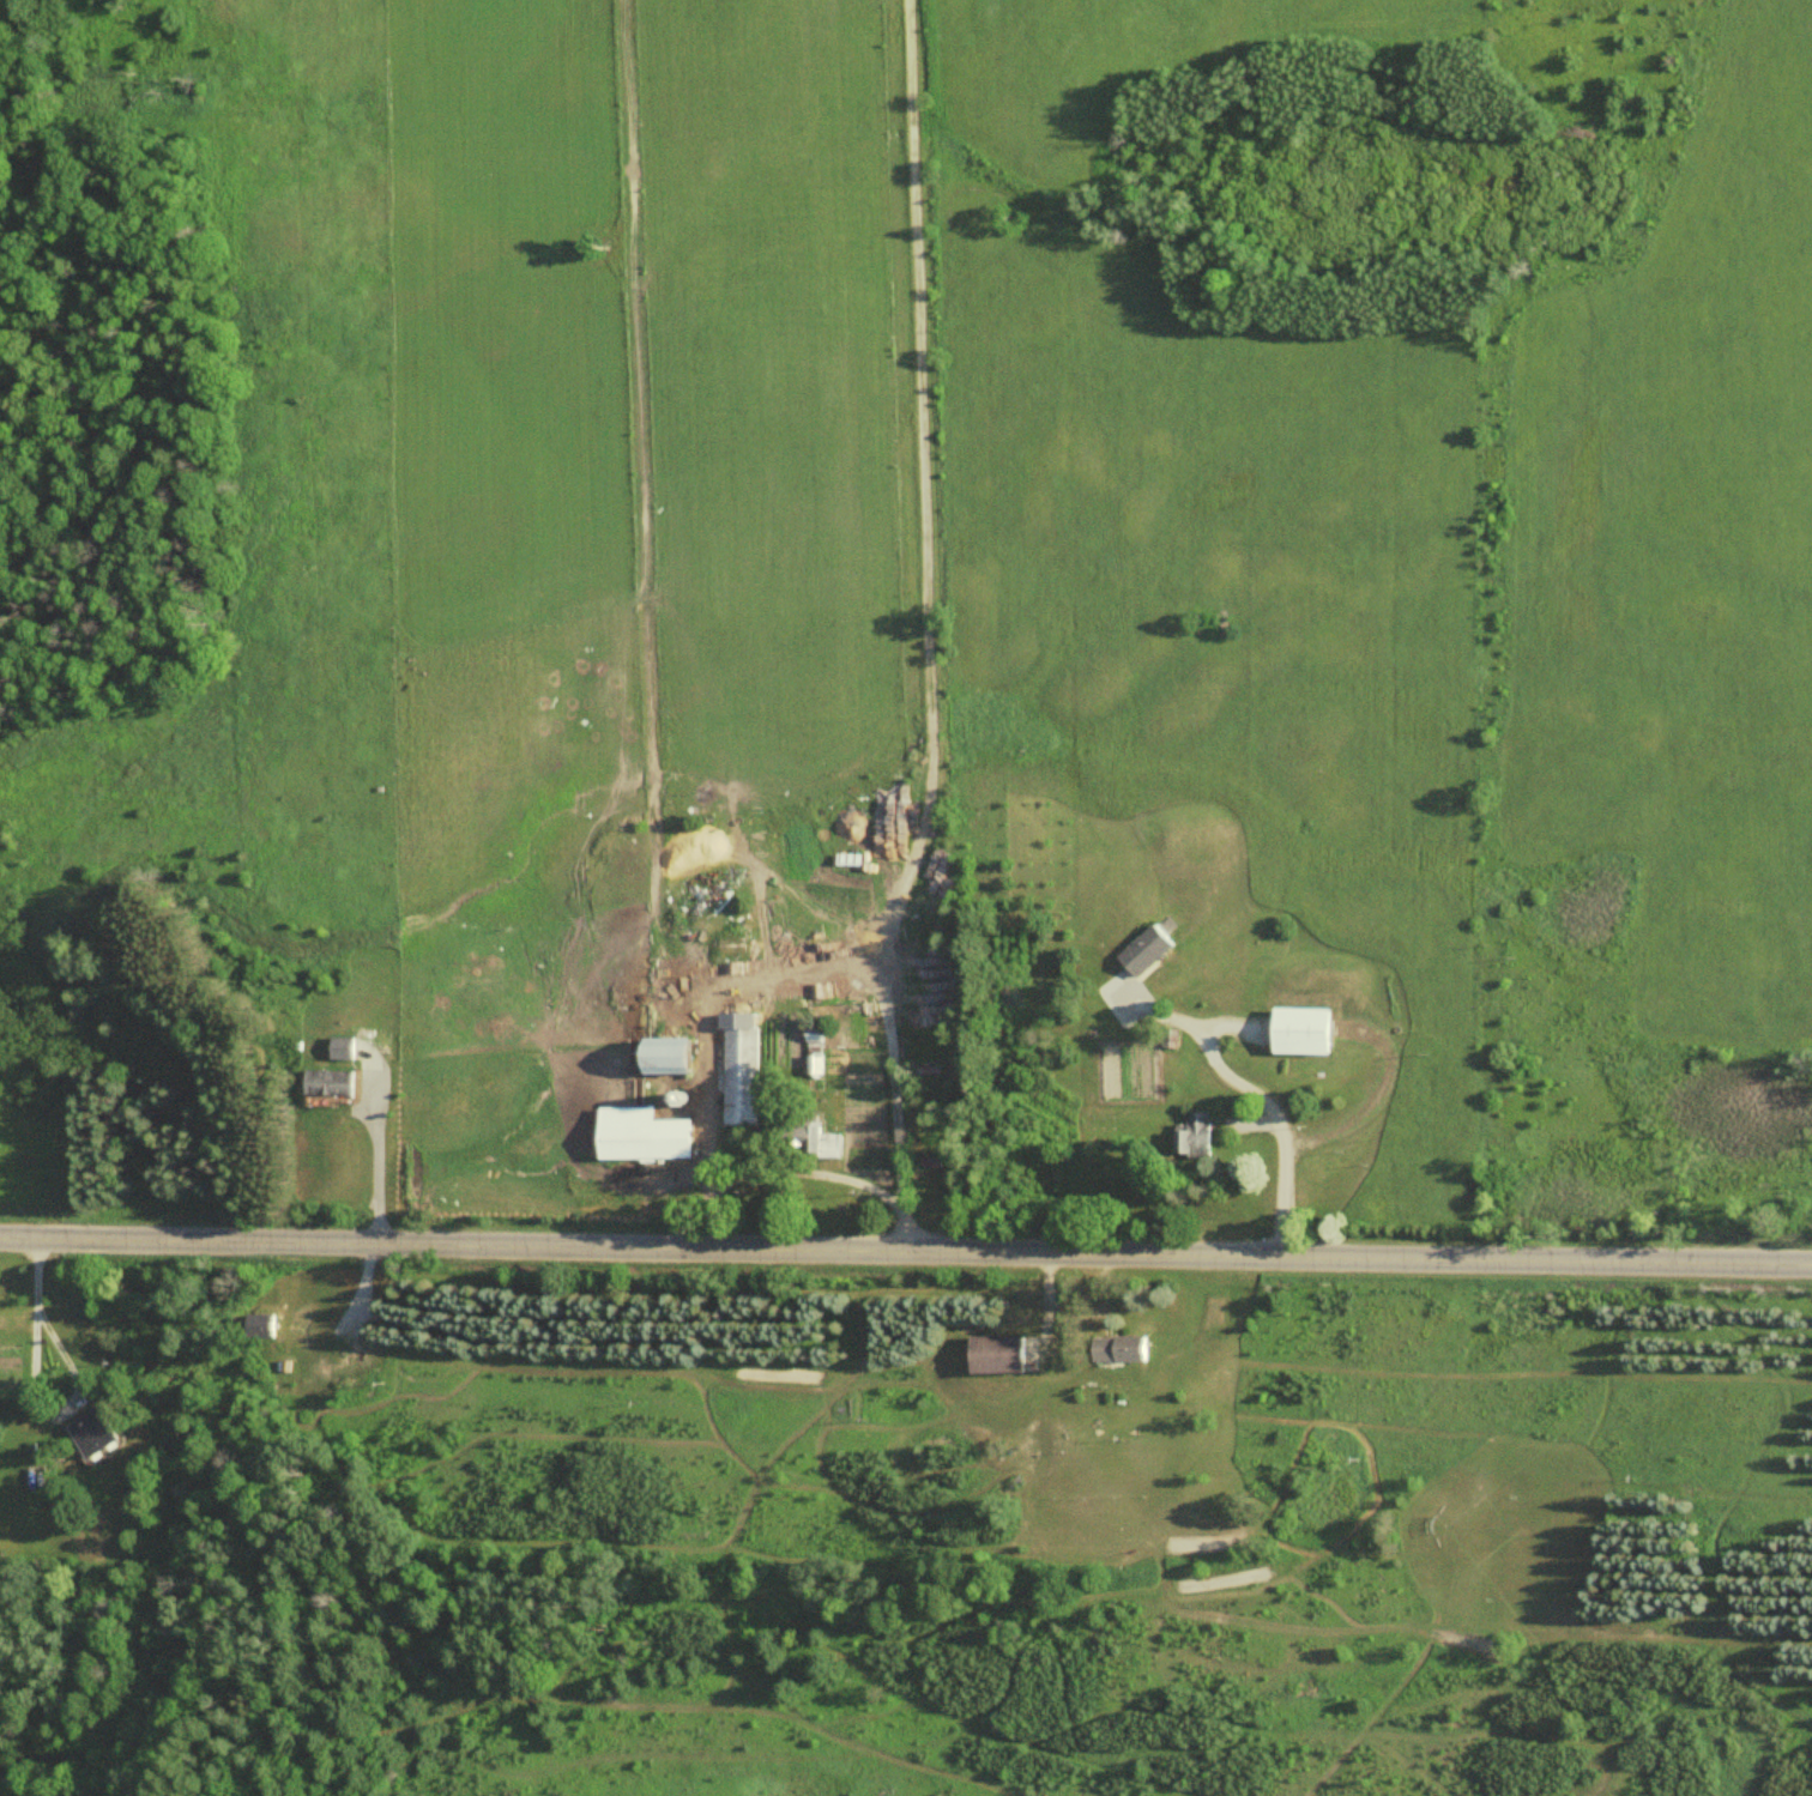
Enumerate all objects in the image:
building: (699, 870)
building: (1149, 949)
building: (1309, 1030)
building: (346, 1047)
building: (819, 1054)
building: (676, 1056)
building: (742, 1075)
building: (336, 1082)
building: (1197, 1135)
building: (815, 1141)
road: (905, 1248)
building: (265, 1324)
building: (1125, 1347)
building: (1003, 1353)
building: (98, 1431)
building: (37, 1474)

